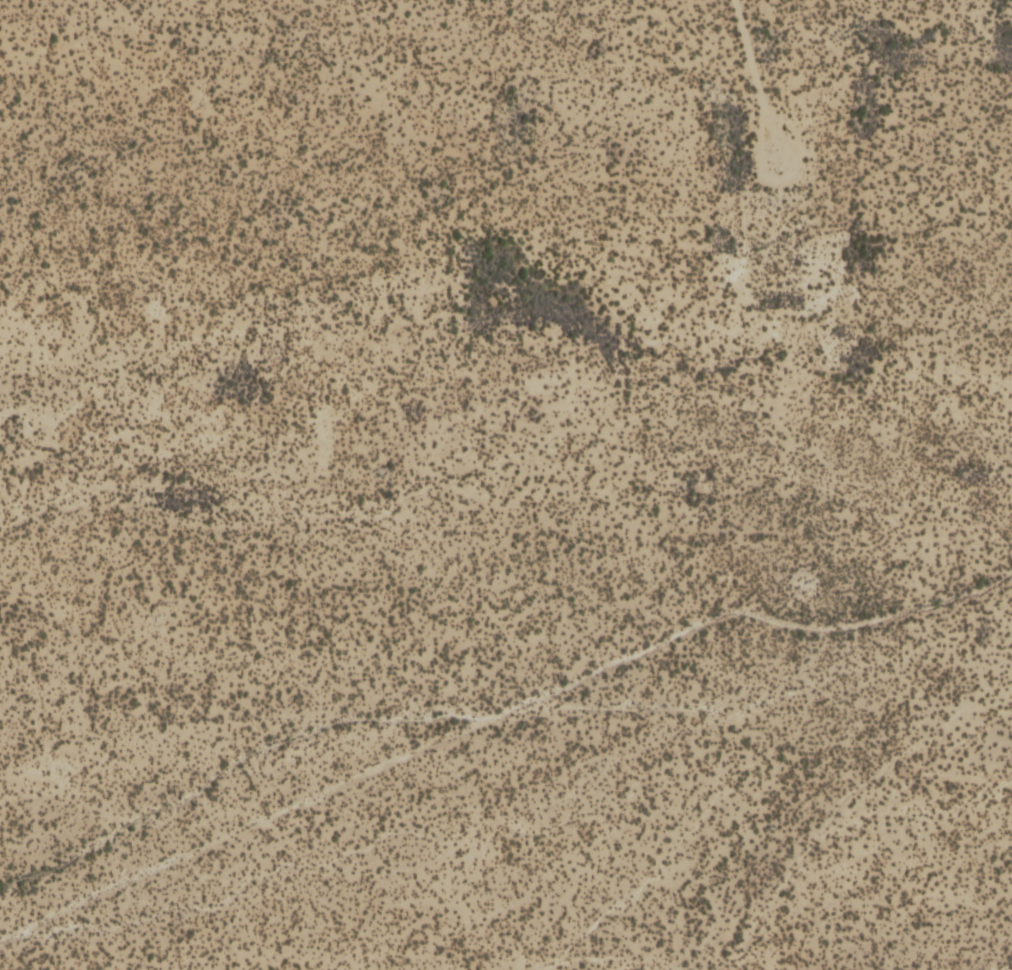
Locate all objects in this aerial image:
building: (34, 960)

